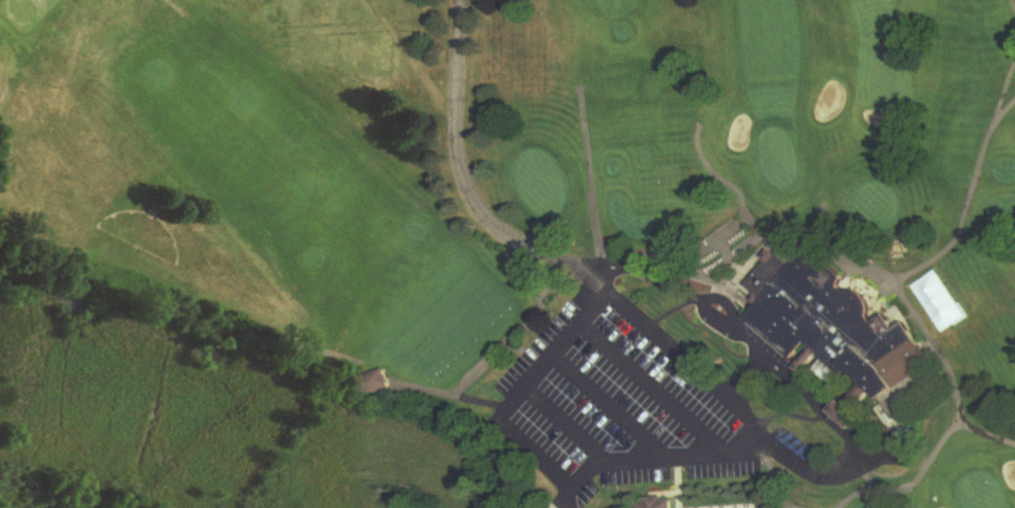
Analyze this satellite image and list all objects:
road: (465, 174)
park: (562, 225)
building: (842, 335)
building: (376, 384)
parking lot: (647, 384)
road: (649, 391)
road: (758, 446)
building: (660, 504)

